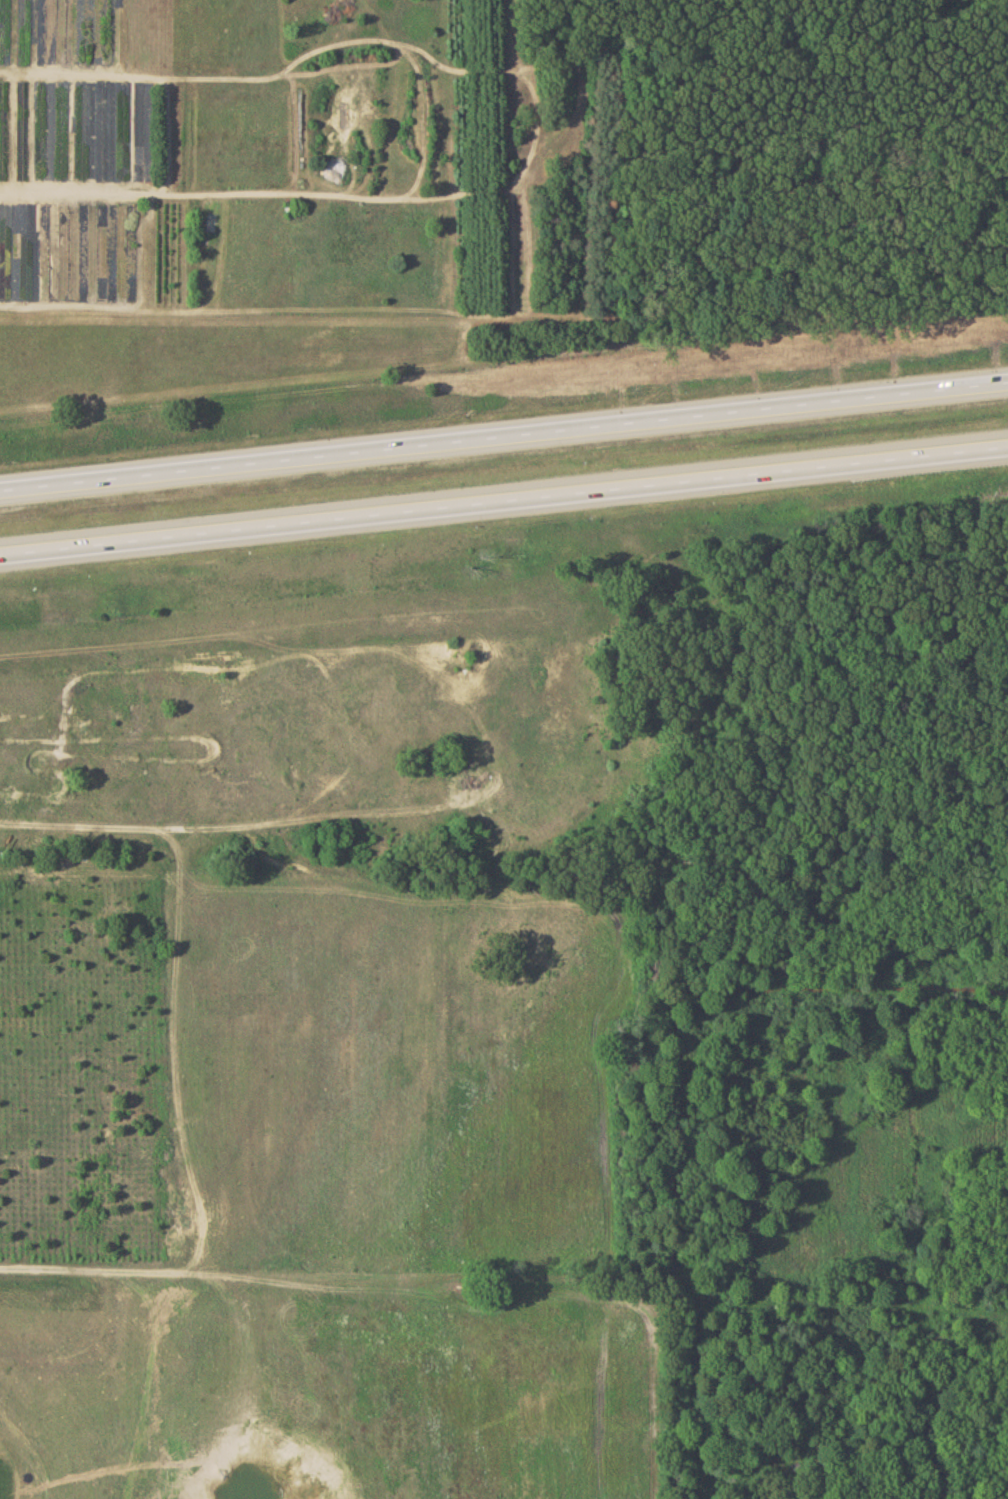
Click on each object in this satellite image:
road: (503, 437)
road: (503, 499)
road: (83, 830)

